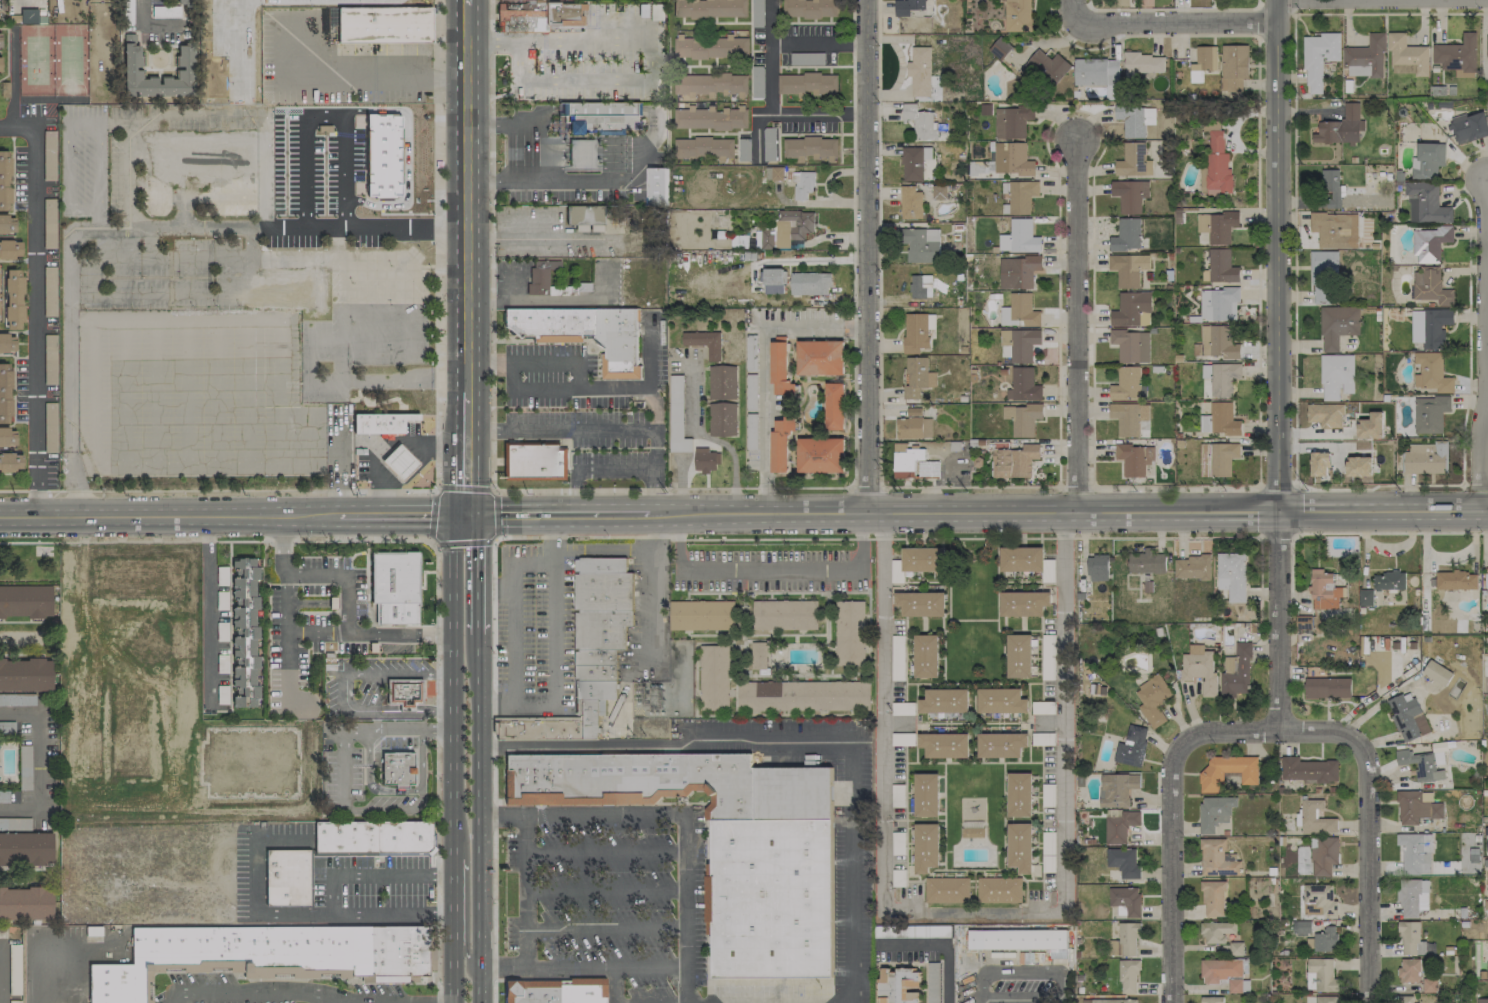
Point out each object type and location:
building: (185, 2)
road: (466, 2)
road: (1256, 2)
road: (1294, 6)
building: (710, 8)
building: (809, 8)
road: (1170, 9)
road: (1391, 12)
building: (1018, 15)
road: (1076, 15)
building: (541, 17)
road: (1257, 21)
road: (1187, 22)
road: (145, 23)
building: (383, 24)
road: (530, 33)
road: (1136, 35)
building: (0, 39)
road: (816, 40)
building: (1487, 46)
building: (711, 47)
road: (240, 49)
building: (1001, 49)
building: (1457, 53)
building: (185, 56)
building: (1407, 56)
building: (1365, 57)
building: (1319, 58)
building: (1203, 62)
building: (0, 64)
building: (1142, 64)
building: (1048, 66)
building: (1233, 67)
building: (920, 71)
building: (1097, 72)
road: (350, 73)
road: (625, 82)
building: (710, 84)
building: (808, 84)
road: (768, 104)
road: (321, 112)
building: (598, 114)
building: (710, 118)
road: (504, 119)
building: (1135, 119)
building: (1012, 121)
building: (921, 122)
building: (1211, 126)
building: (1341, 127)
building: (1469, 127)
road: (654, 128)
road: (543, 146)
building: (703, 147)
building: (809, 147)
building: (581, 153)
building: (383, 155)
road: (407, 156)
building: (1133, 160)
building: (1427, 160)
building: (1003, 162)
building: (917, 163)
building: (1215, 167)
road: (341, 169)
road: (302, 170)
building: (5, 180)
road: (504, 180)
building: (1331, 188)
building: (939, 192)
building: (1129, 195)
building: (1021, 196)
road: (466, 198)
building: (911, 204)
building: (1425, 204)
building: (584, 215)
building: (7, 224)
building: (1217, 226)
road: (362, 227)
building: (49, 229)
building: (787, 229)
building: (1333, 229)
building: (1126, 235)
building: (1019, 237)
building: (1430, 242)
road: (438, 243)
building: (920, 244)
road: (1294, 248)
building: (10, 249)
road: (867, 256)
road: (1275, 257)
road: (1257, 262)
building: (991, 265)
building: (1220, 267)
building: (1128, 268)
building: (1018, 271)
building: (1323, 277)
building: (774, 280)
building: (809, 283)
building: (921, 286)
building: (1430, 287)
building: (13, 299)
building: (1218, 303)
road: (37, 308)
building: (1132, 309)
building: (1019, 311)
road: (854, 324)
building: (1337, 325)
road: (1075, 326)
building: (1430, 327)
building: (585, 331)
building: (917, 331)
road: (548, 339)
road: (1058, 339)
building: (704, 342)
building: (1215, 342)
building: (7, 343)
building: (1019, 344)
building: (1131, 345)
road: (1482, 346)
road: (648, 356)
building: (820, 357)
building: (780, 369)
building: (1431, 372)
building: (1337, 376)
building: (918, 377)
building: (1221, 377)
road: (762, 380)
building: (1127, 383)
building: (1023, 385)
road: (564, 388)
road: (1468, 390)
building: (5, 394)
building: (834, 406)
building: (1430, 413)
building: (1326, 415)
building: (1128, 417)
building: (722, 419)
building: (1022, 419)
building: (1219, 419)
building: (379, 421)
building: (914, 425)
building: (1371, 426)
road: (602, 431)
building: (8, 437)
road: (708, 439)
road: (383, 441)
building: (780, 444)
road: (1314, 446)
road: (465, 454)
building: (820, 455)
building: (1134, 458)
building: (1425, 458)
building: (1217, 459)
road: (496, 460)
building: (533, 460)
building: (705, 460)
building: (9, 461)
building: (1014, 461)
building: (400, 462)
building: (912, 463)
building: (1319, 464)
road: (337, 466)
building: (1359, 466)
road: (614, 469)
road: (464, 486)
road: (1276, 486)
road: (670, 488)
road: (46, 489)
road: (264, 489)
road: (573, 491)
road: (963, 512)
road: (1383, 513)
road: (434, 514)
road: (556, 514)
road: (400, 515)
road: (493, 515)
road: (168, 517)
road: (653, 531)
road: (542, 537)
road: (976, 538)
road: (462, 543)
road: (652, 558)
building: (1021, 558)
building: (922, 559)
building: (1146, 562)
building: (600, 564)
building: (1097, 567)
building: (1192, 567)
road: (769, 570)
road: (477, 572)
building: (1487, 573)
building: (1232, 576)
building: (393, 577)
building: (1456, 580)
building: (1389, 581)
building: (1324, 590)
building: (602, 591)
building: (1365, 597)
building: (25, 600)
building: (921, 603)
building: (1024, 603)
road: (207, 608)
road: (286, 608)
building: (397, 613)
building: (784, 614)
building: (701, 615)
road: (1278, 622)
building: (601, 628)
road: (346, 630)
road: (316, 633)
building: (849, 633)
building: (759, 655)
building: (926, 655)
building: (595, 656)
building: (1019, 656)
building: (1199, 669)
building: (596, 672)
building: (1236, 672)
building: (1437, 672)
building: (25, 674)
road: (574, 676)
building: (714, 677)
road: (453, 686)
building: (1327, 687)
building: (597, 689)
road: (343, 691)
building: (404, 692)
building: (783, 696)
building: (1001, 700)
building: (1152, 700)
building: (944, 701)
road: (536, 706)
building: (1407, 716)
building: (589, 717)
road: (886, 725)
road: (397, 729)
building: (537, 729)
road: (1064, 731)
road: (800, 742)
building: (1001, 744)
building: (944, 745)
building: (1131, 746)
road: (38, 762)
building: (1420, 765)
building: (397, 769)
road: (419, 769)
road: (342, 770)
building: (1308, 770)
road: (493, 773)
building: (1211, 778)
road: (368, 780)
building: (670, 783)
building: (1117, 789)
building: (926, 794)
building: (1019, 794)
building: (1416, 808)
road: (377, 810)
building: (1214, 812)
road: (675, 813)
road: (479, 817)
building: (1314, 818)
road: (1171, 820)
building: (1120, 826)
road: (1368, 830)
building: (372, 836)
road: (708, 845)
building: (26, 847)
building: (926, 847)
building: (1020, 847)
building: (1415, 853)
building: (1323, 855)
building: (1217, 858)
building: (1124, 861)
road: (372, 875)
building: (287, 877)
road: (526, 890)
building: (947, 890)
building: (999, 891)
building: (770, 897)
building: (1213, 898)
building: (1317, 898)
building: (1412, 898)
building: (1125, 901)
road: (466, 902)
building: (26, 903)
road: (453, 903)
road: (972, 910)
road: (288, 912)
building: (1303, 926)
building: (1222, 935)
building: (1127, 938)
building: (1323, 939)
building: (1411, 939)
building: (1020, 940)
road: (940, 945)
building: (235, 954)
building: (397, 954)
road: (33, 966)
road: (565, 966)
building: (1220, 969)
building: (1409, 970)
building: (1487, 970)
road: (1057, 972)
road: (273, 975)
road: (454, 975)
building: (1320, 975)
building: (1128, 976)
road: (546, 978)
parking lot: (1018, 983)
road: (710, 985)
building: (898, 985)
building: (1234, 985)
building: (1429, 985)
road: (438, 991)
building: (555, 991)
road: (250, 994)
road: (1156, 994)
road: (337, 999)
building: (1211, 999)
building: (1325, 999)
building: (1405, 999)
building: (1482, 1000)
road: (981, 1001)
building: (1114, 1001)

